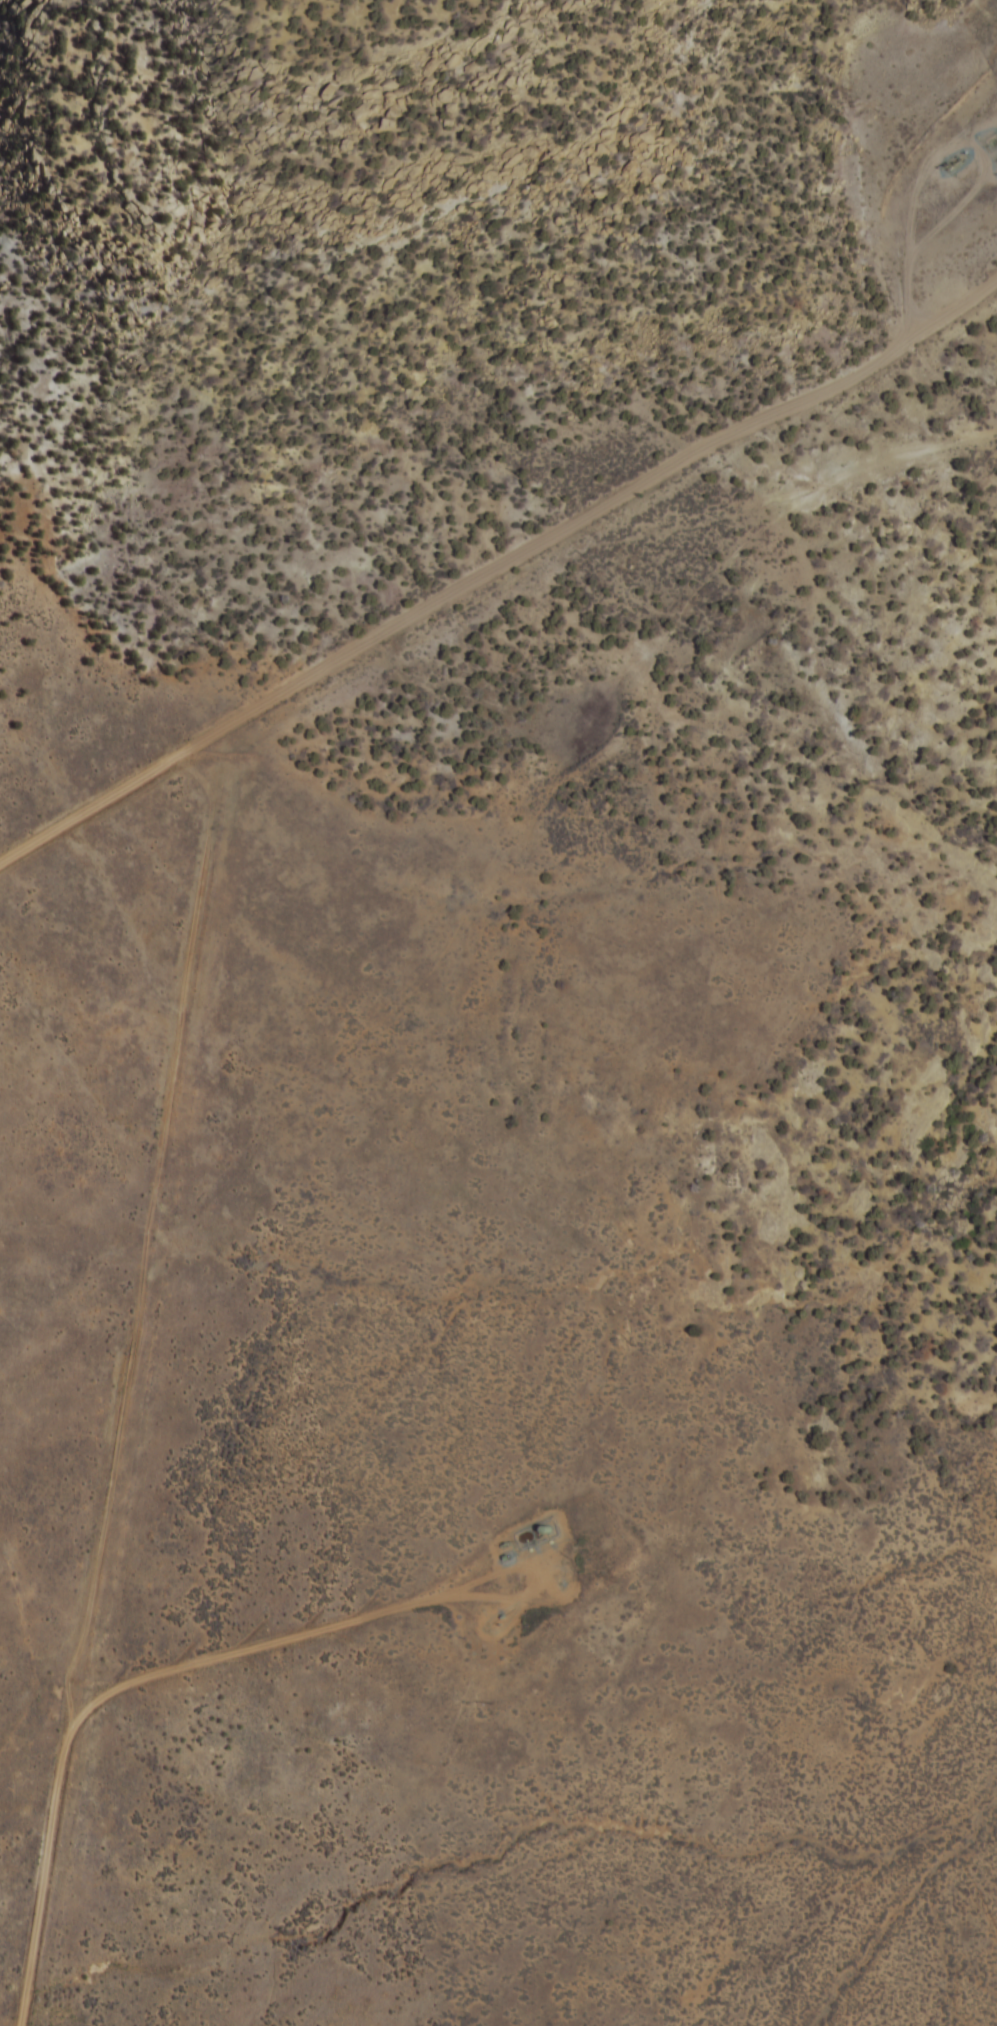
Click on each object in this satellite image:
road: (95, 805)
road: (167, 926)
road: (262, 1659)

